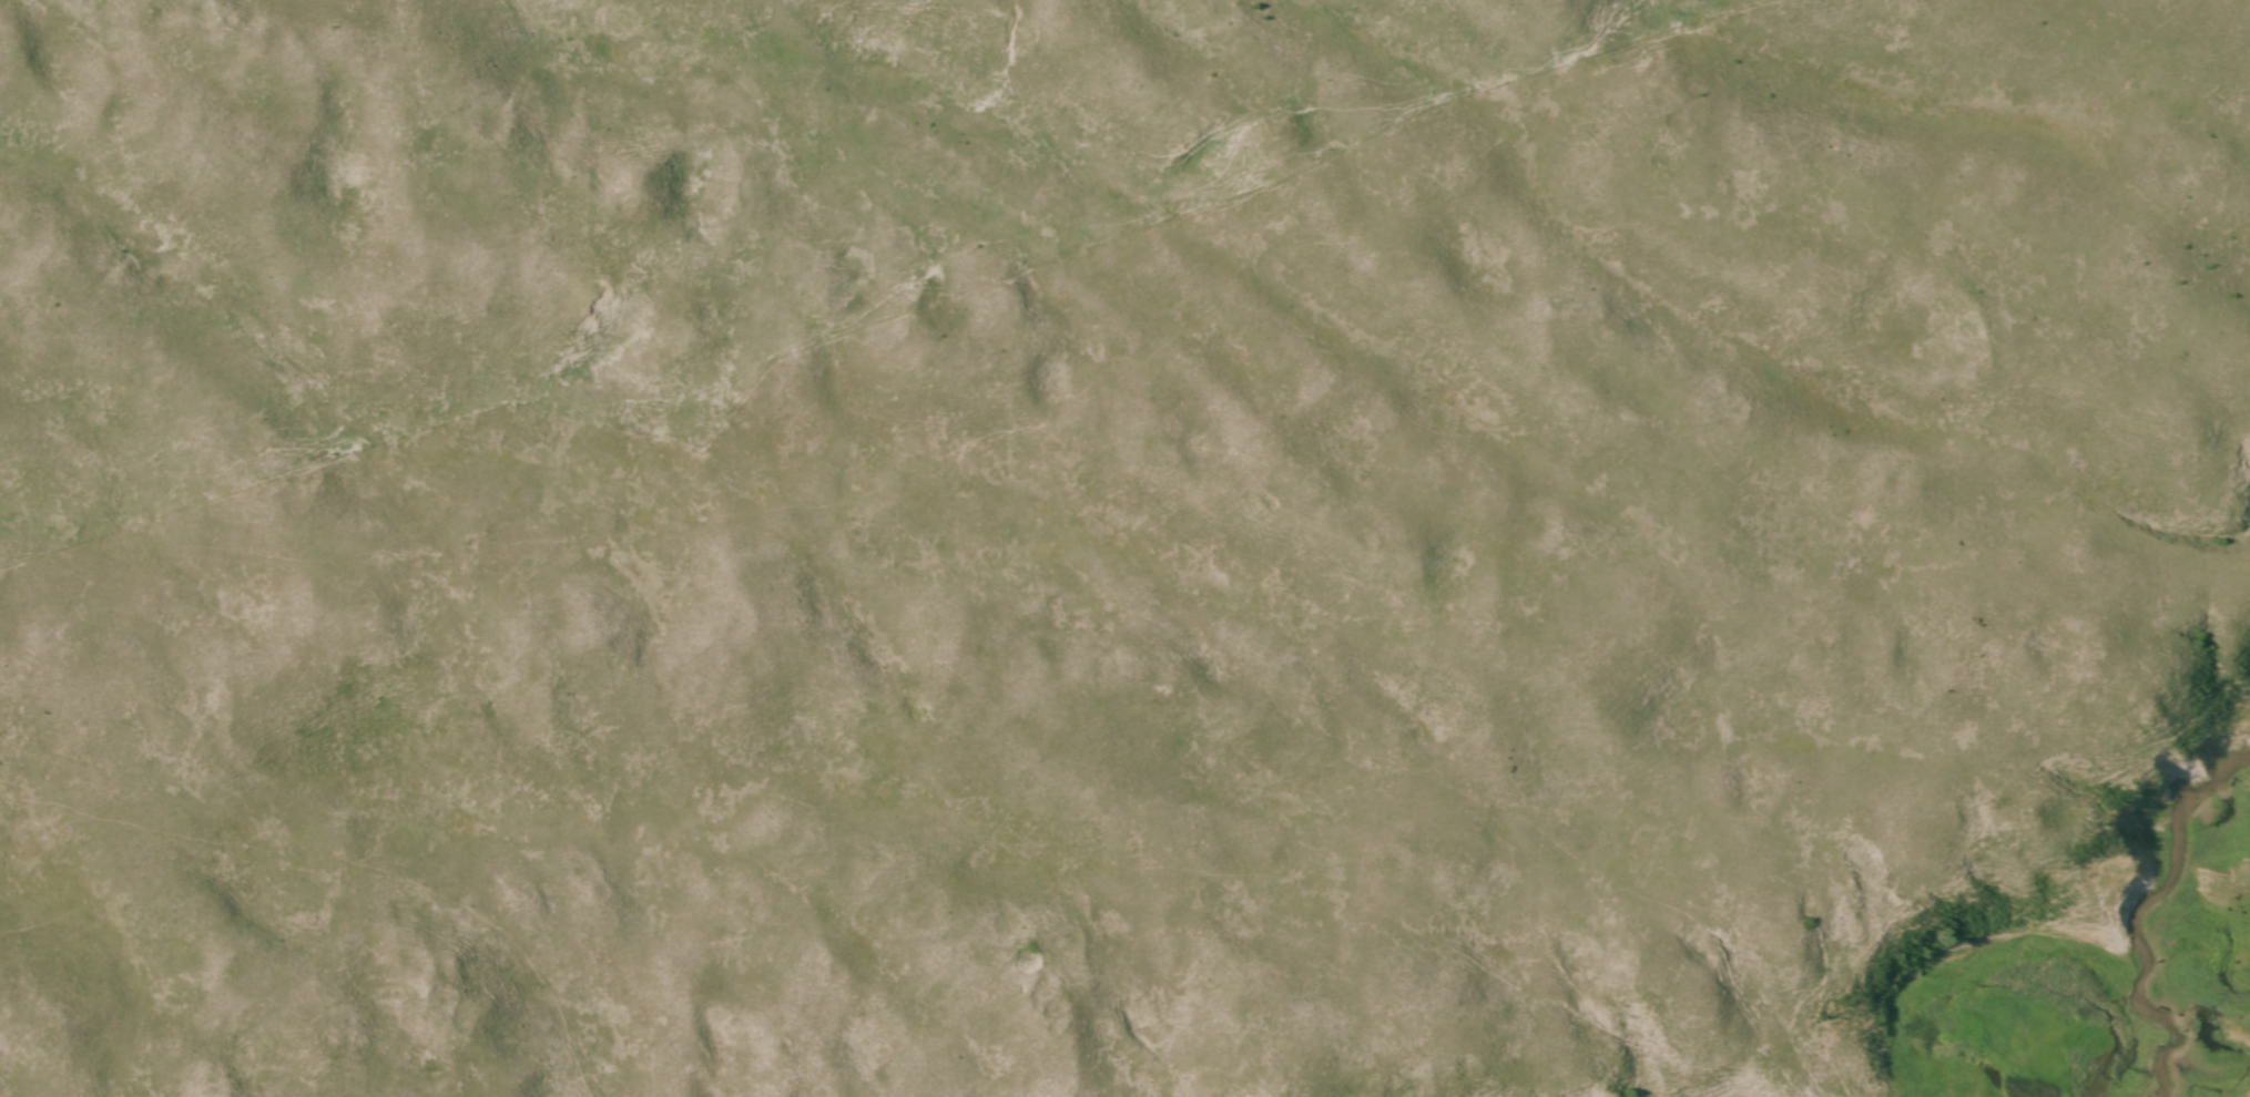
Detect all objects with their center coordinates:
river: (2192, 824)
river: (2154, 970)

